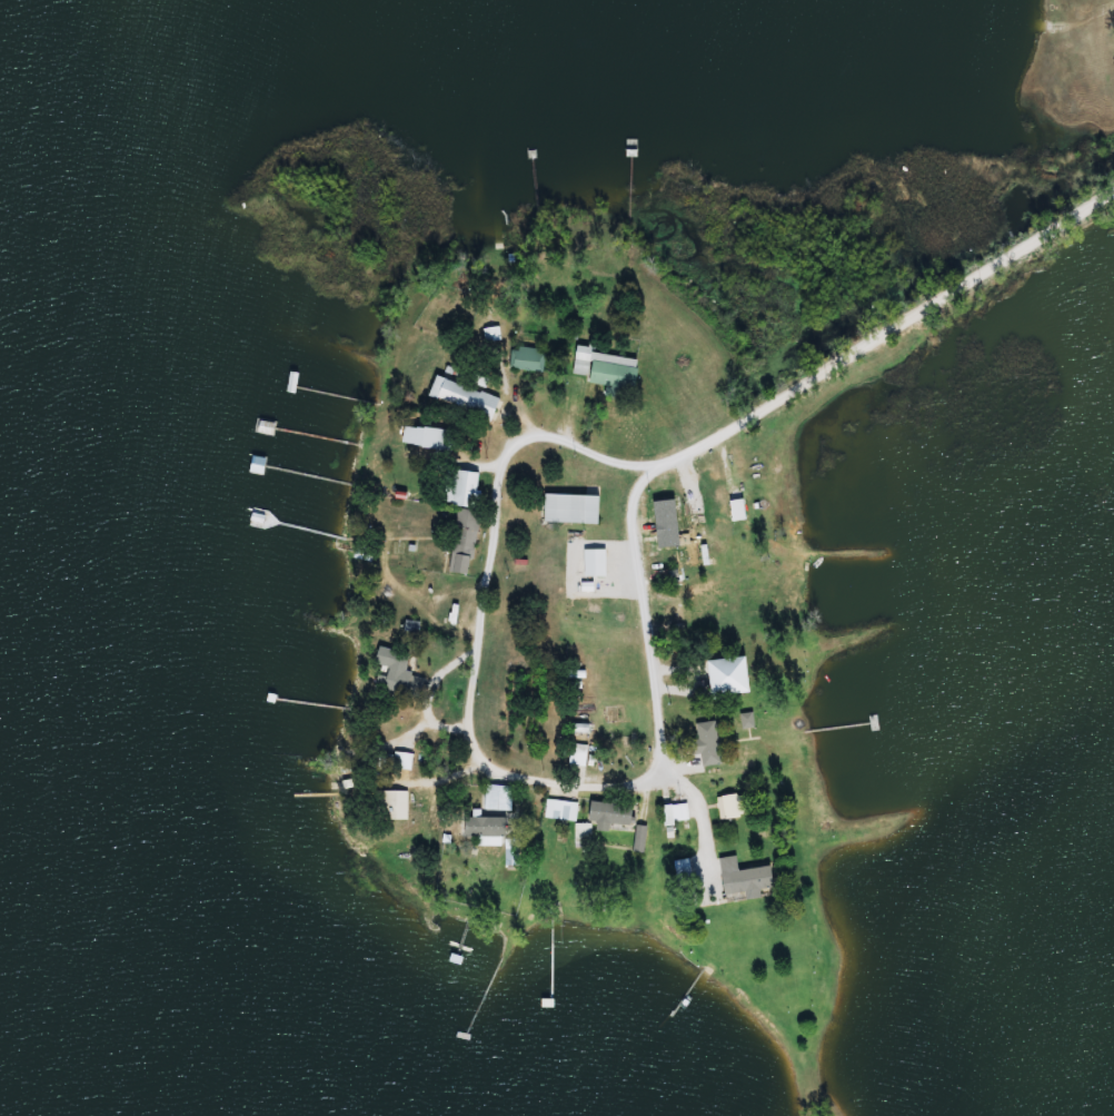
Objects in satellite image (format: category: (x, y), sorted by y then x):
road: (864, 340)
building: (529, 359)
building: (610, 372)
building: (458, 394)
building: (429, 438)
building: (468, 488)
building: (575, 510)
building: (466, 543)
building: (593, 576)
road: (743, 597)
building: (706, 608)
building: (400, 674)
building: (733, 678)
building: (710, 744)
building: (580, 755)
building: (405, 762)
building: (500, 798)
building: (395, 806)
building: (735, 808)
building: (563, 811)
building: (678, 814)
road: (689, 814)
building: (615, 816)
building: (490, 831)
building: (585, 837)
building: (643, 840)
building: (514, 857)
building: (685, 868)
building: (748, 879)

